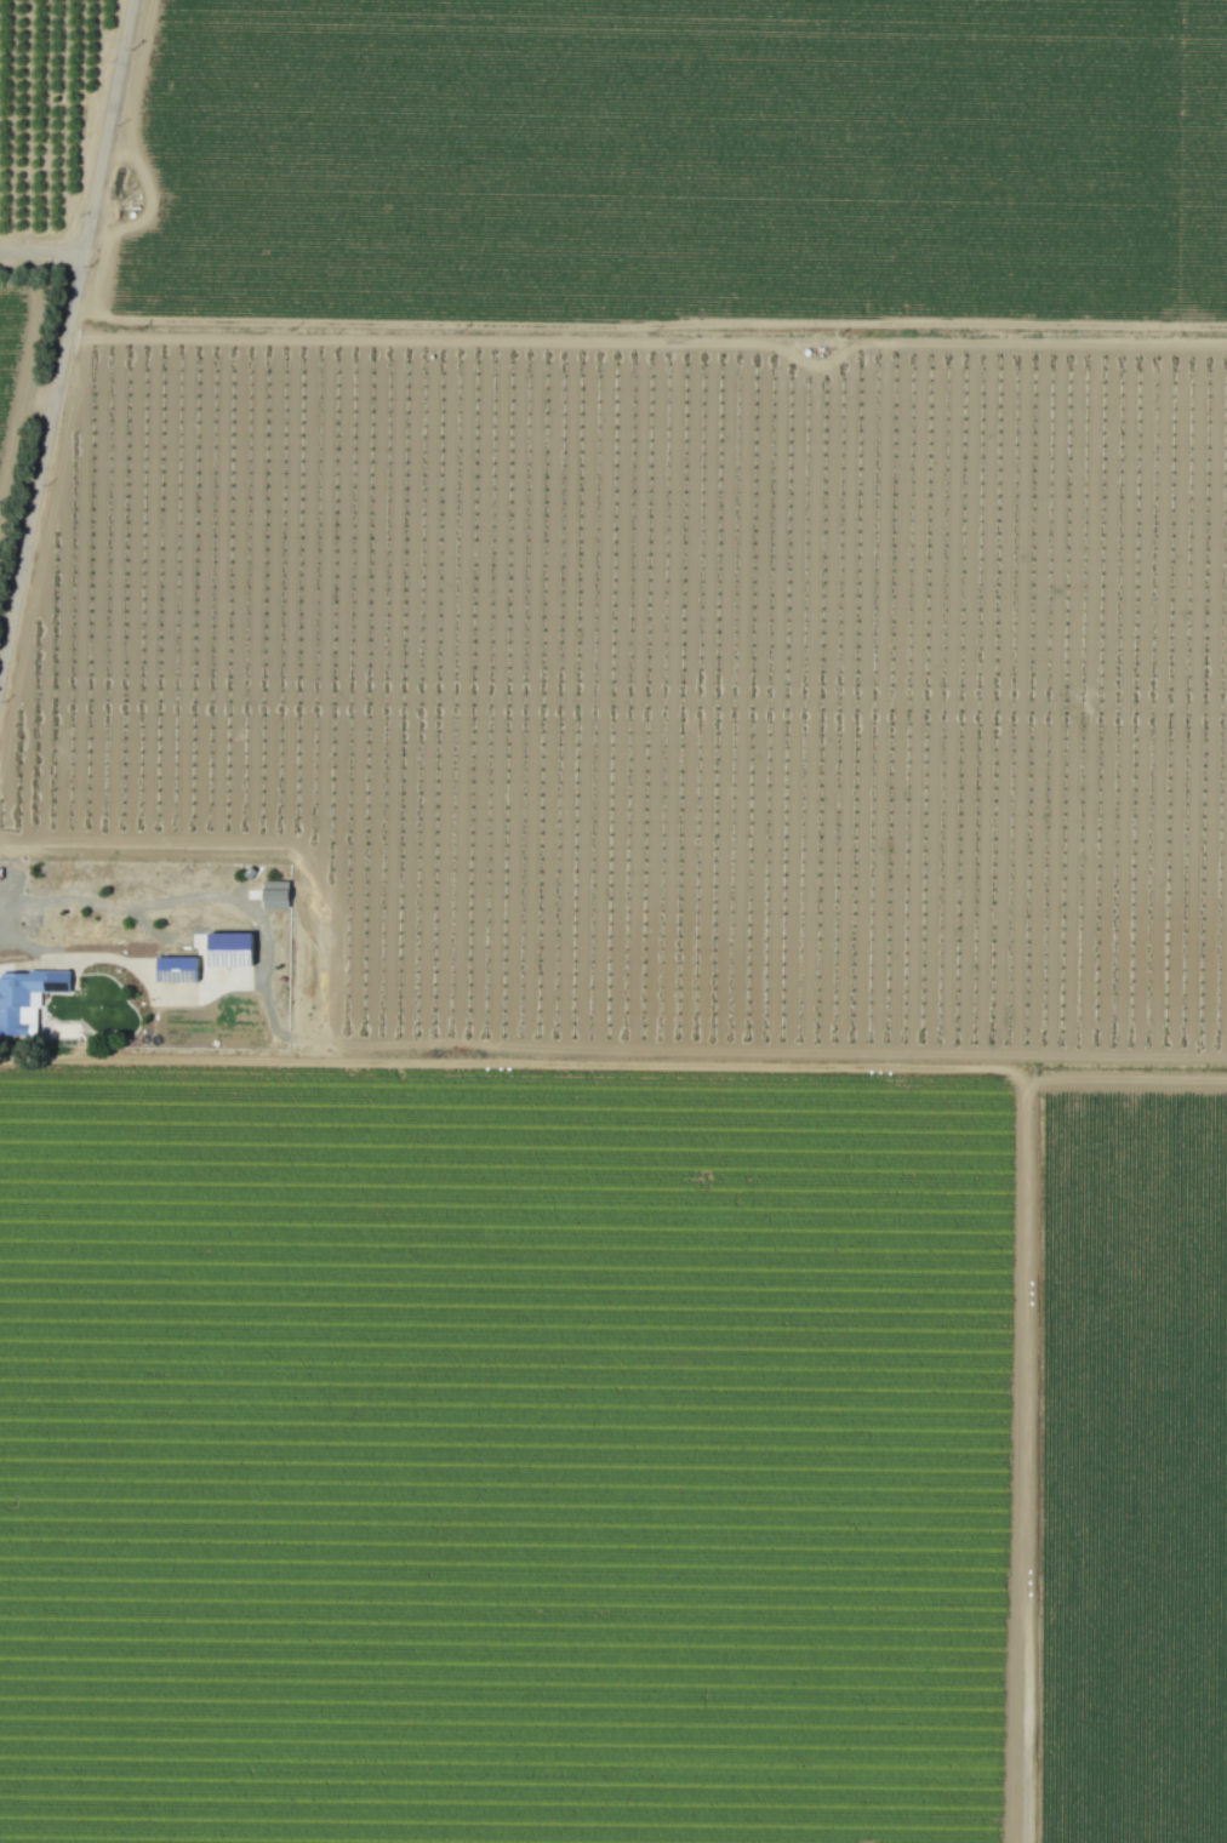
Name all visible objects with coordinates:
road: (42, 266)
road: (67, 371)
road: (267, 951)
building: (19, 1000)

